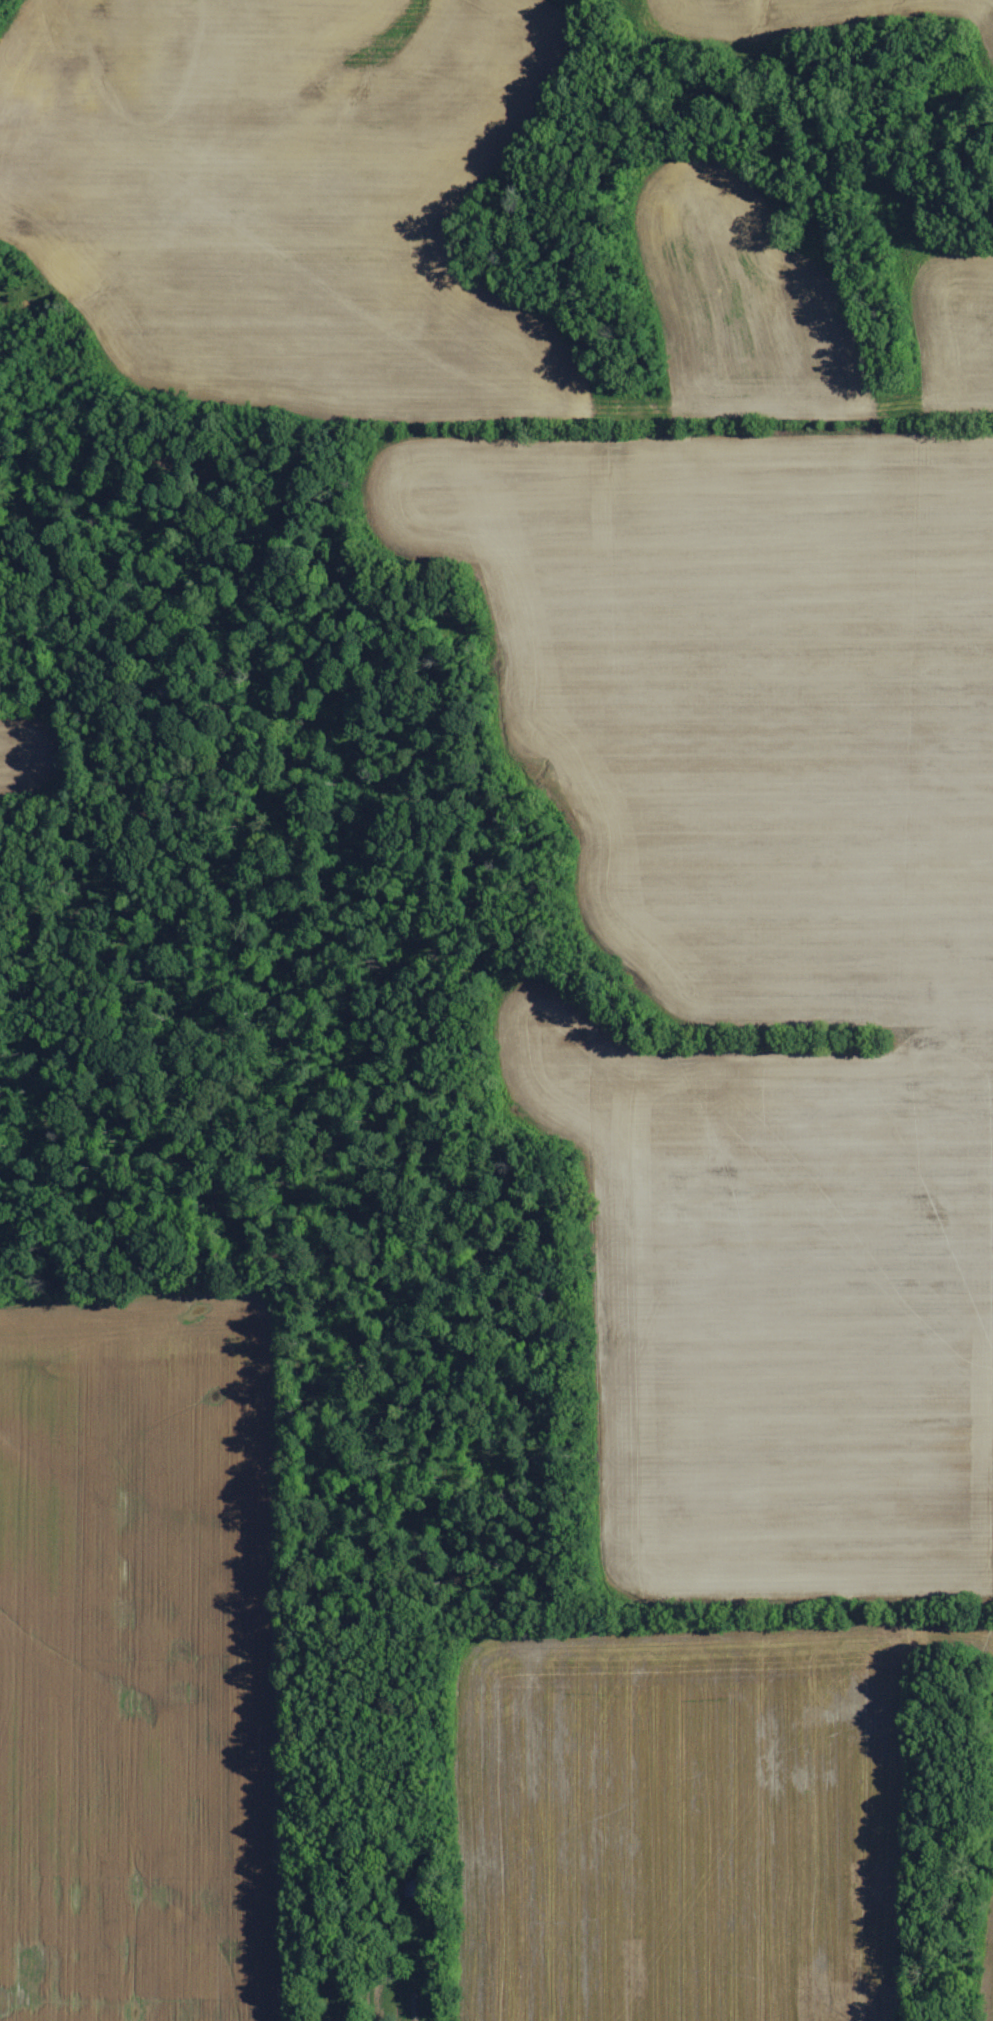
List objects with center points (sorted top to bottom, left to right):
building: (412, 1889)

